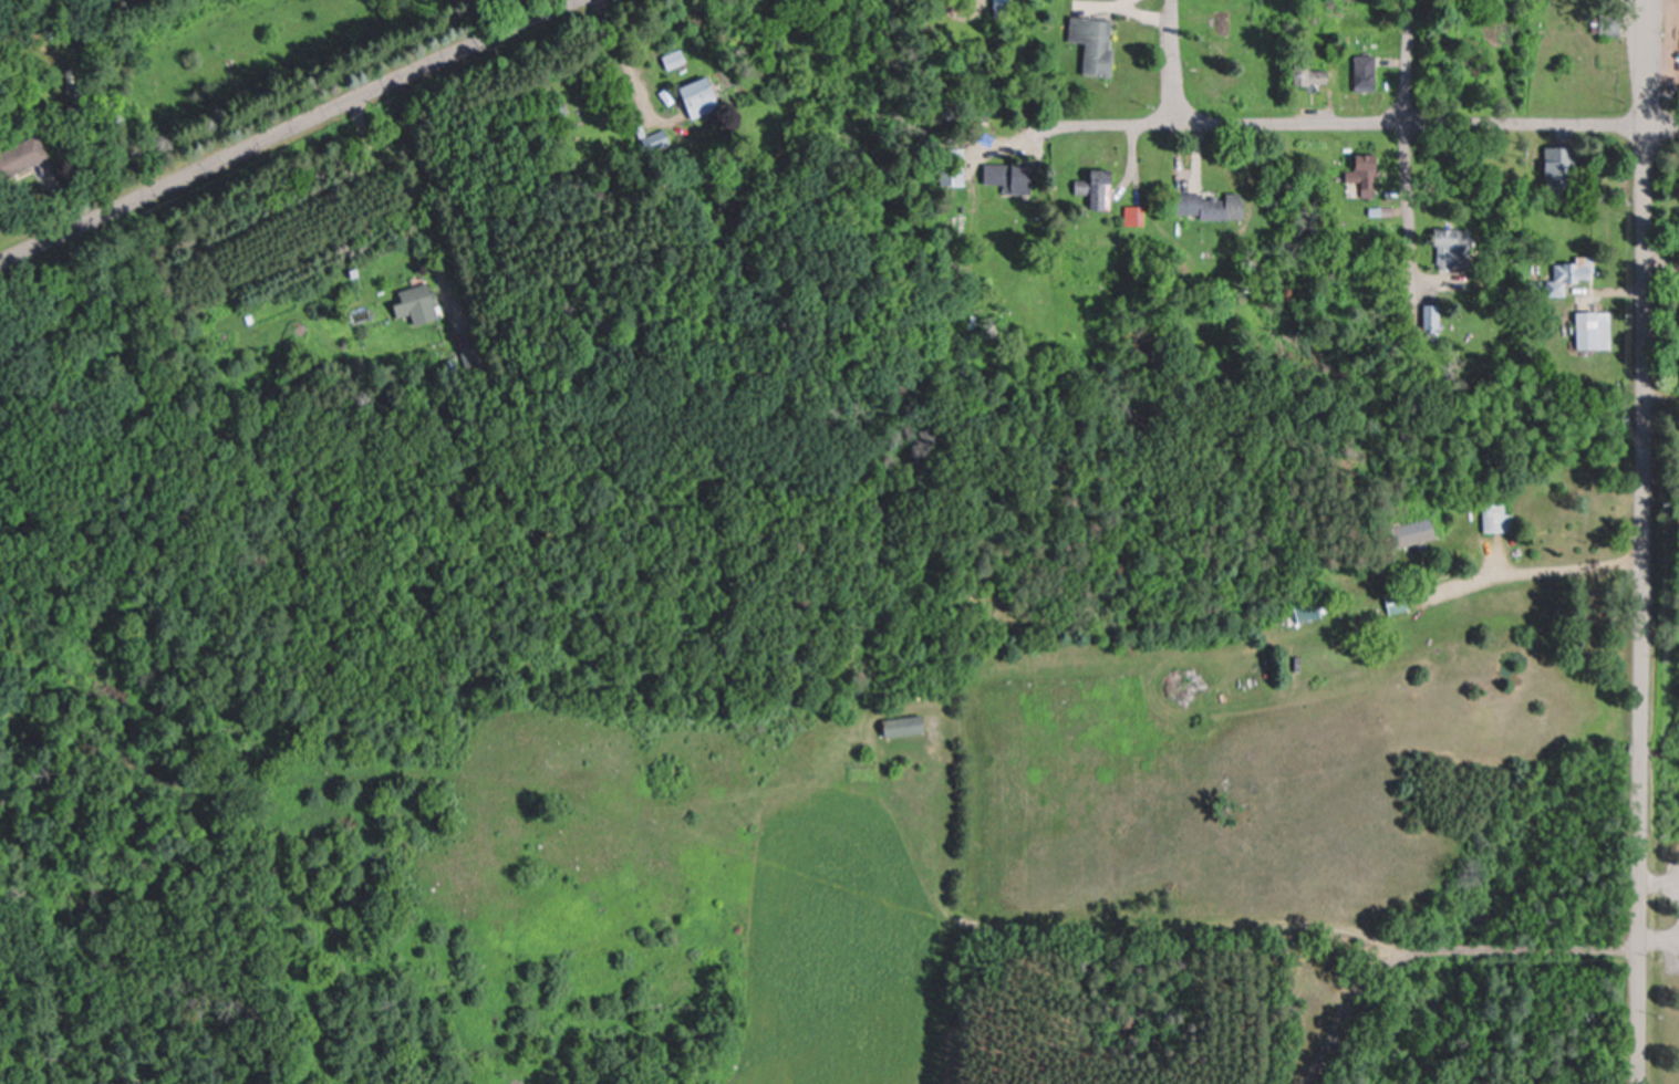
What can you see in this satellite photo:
building: (1090, 43)
building: (672, 56)
road: (1173, 60)
road: (1645, 63)
road: (626, 70)
building: (1364, 72)
building: (1294, 73)
building: (696, 97)
road: (1364, 124)
road: (287, 131)
building: (1362, 173)
building: (1009, 179)
road: (400, 181)
building: (1095, 181)
road: (1406, 189)
building: (1205, 205)
building: (1129, 216)
building: (1447, 242)
building: (1572, 272)
building: (414, 304)
building: (1429, 316)
building: (1585, 331)
building: (1677, 450)
building: (1495, 519)
building: (1412, 535)
road: (1528, 570)
road: (1639, 605)
building: (1395, 607)
building: (900, 726)
road: (1659, 878)
road: (1658, 936)
road: (1440, 948)

